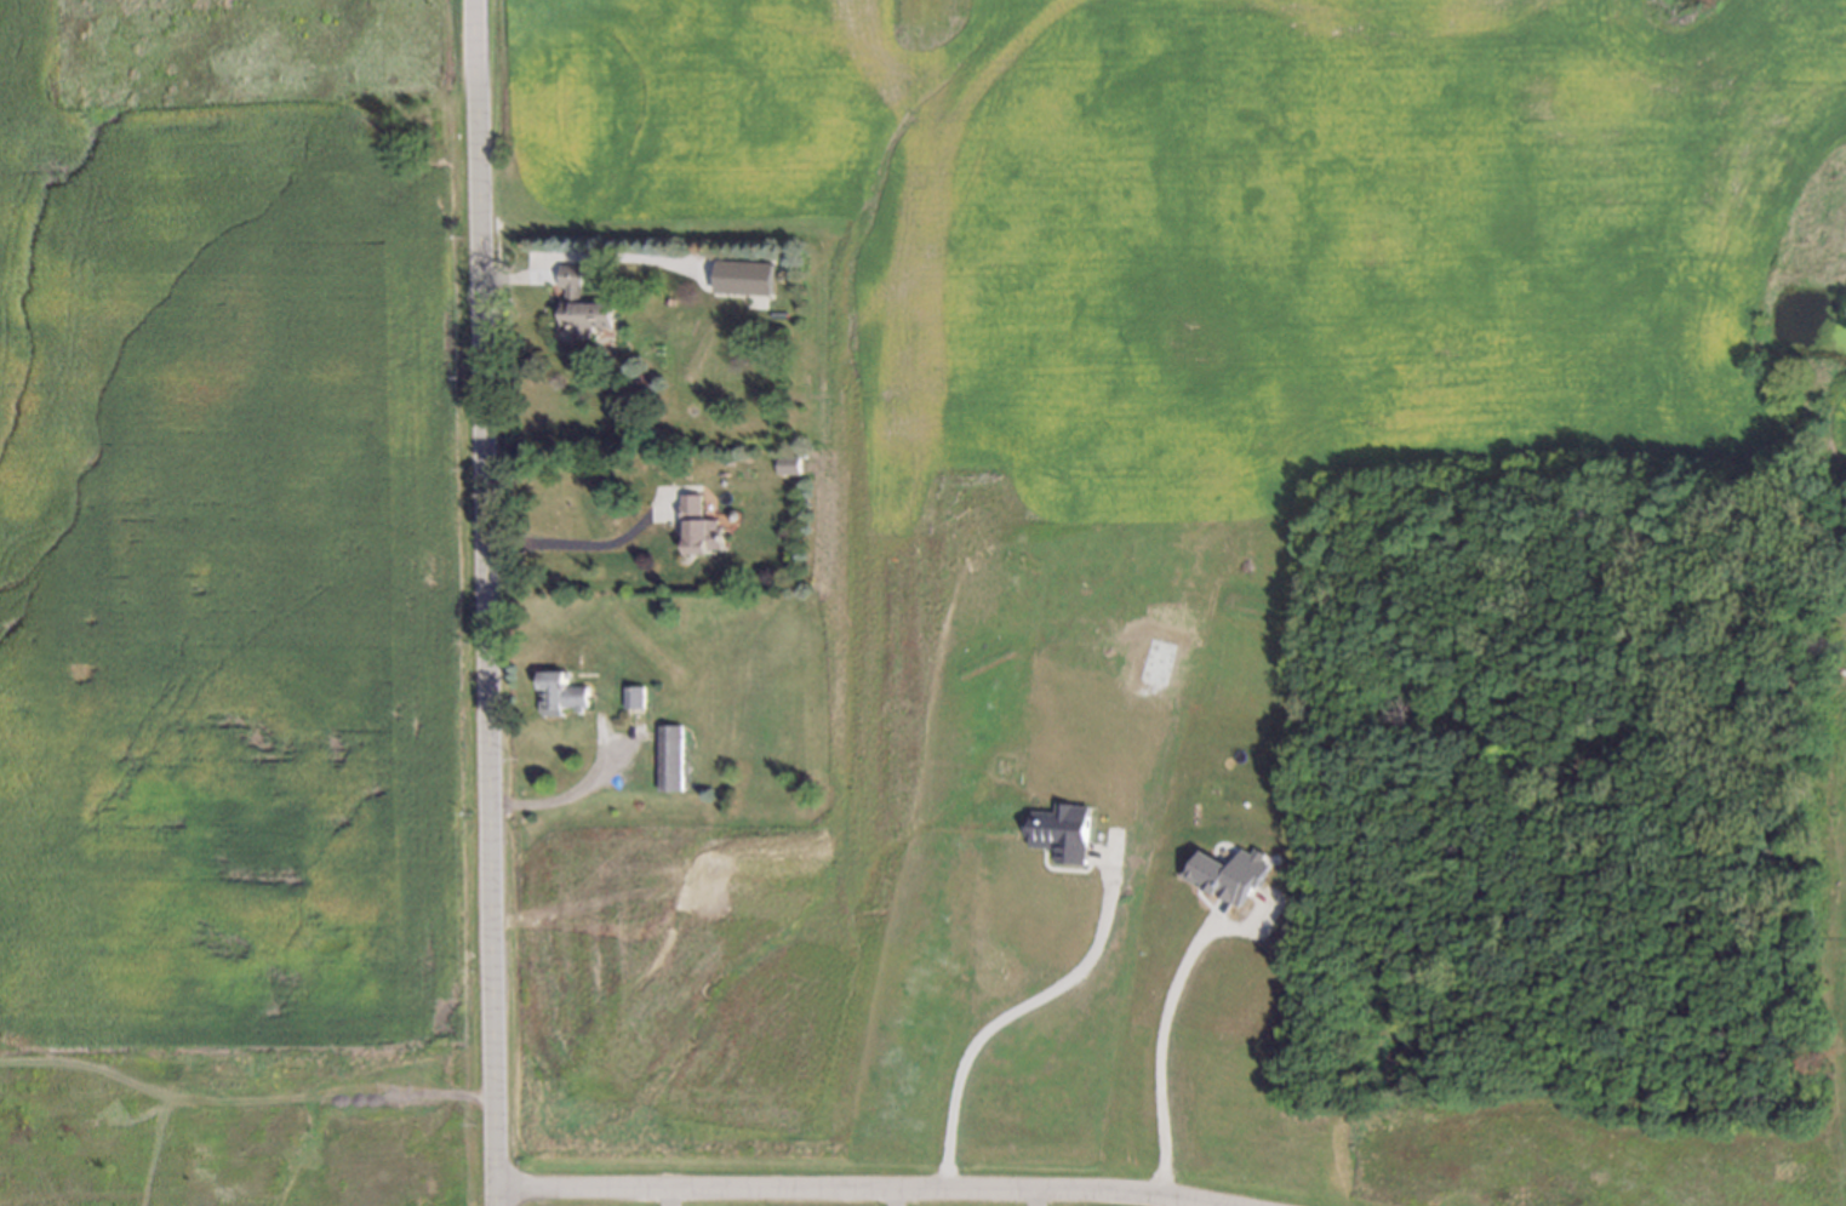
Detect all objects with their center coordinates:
building: (744, 276)
building: (664, 299)
building: (577, 303)
building: (784, 462)
building: (695, 522)
road: (577, 543)
road: (484, 602)
building: (554, 690)
building: (627, 697)
building: (664, 759)
road: (562, 795)
building: (1061, 831)
building: (1229, 874)
road: (993, 1023)
road: (1151, 1057)
road: (848, 1189)
road: (884, 1198)
road: (1024, 1199)
road: (1171, 1204)

